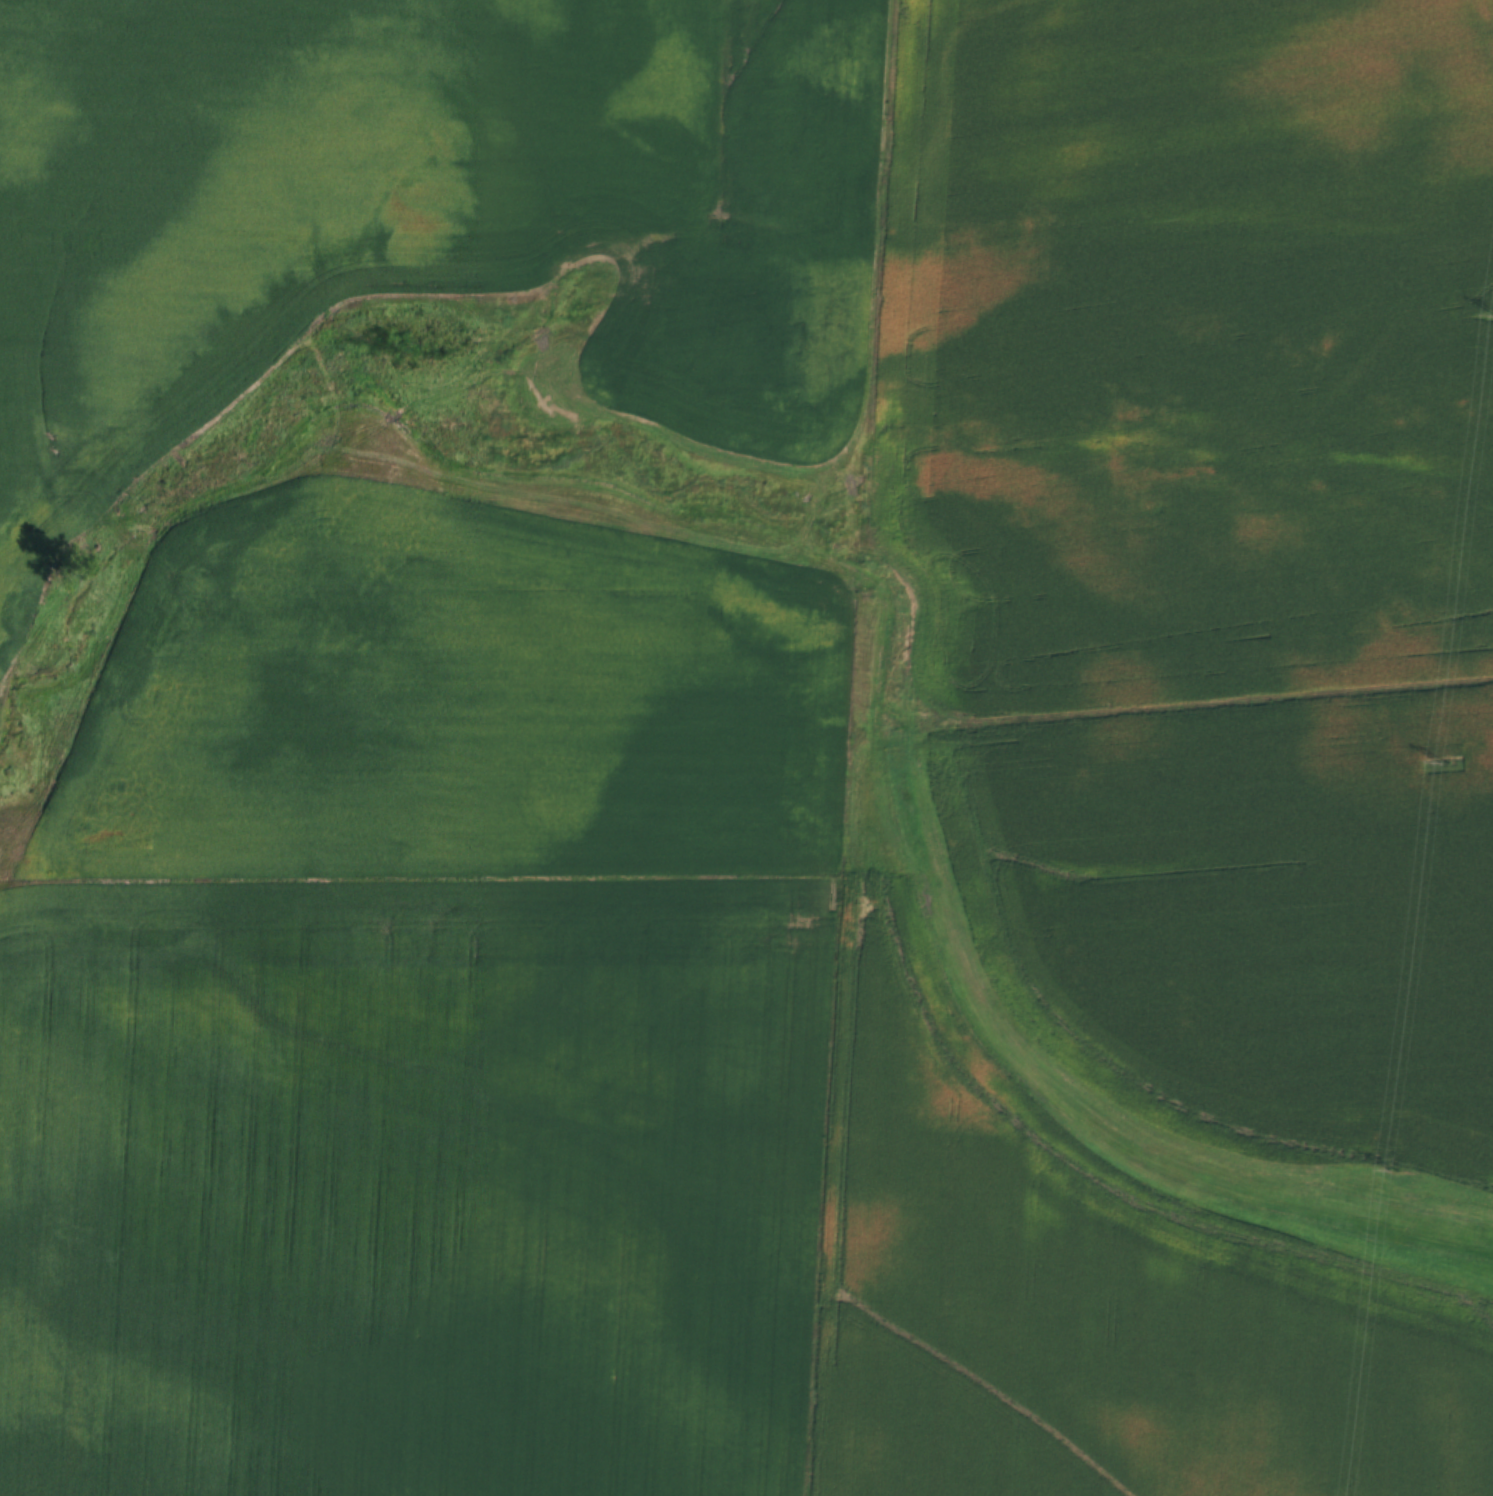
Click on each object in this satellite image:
crop: (291, 189)
crop: (1183, 353)
crop: (459, 707)
power tower: (1444, 763)
power tower: (1394, 1172)
crop: (407, 1185)

